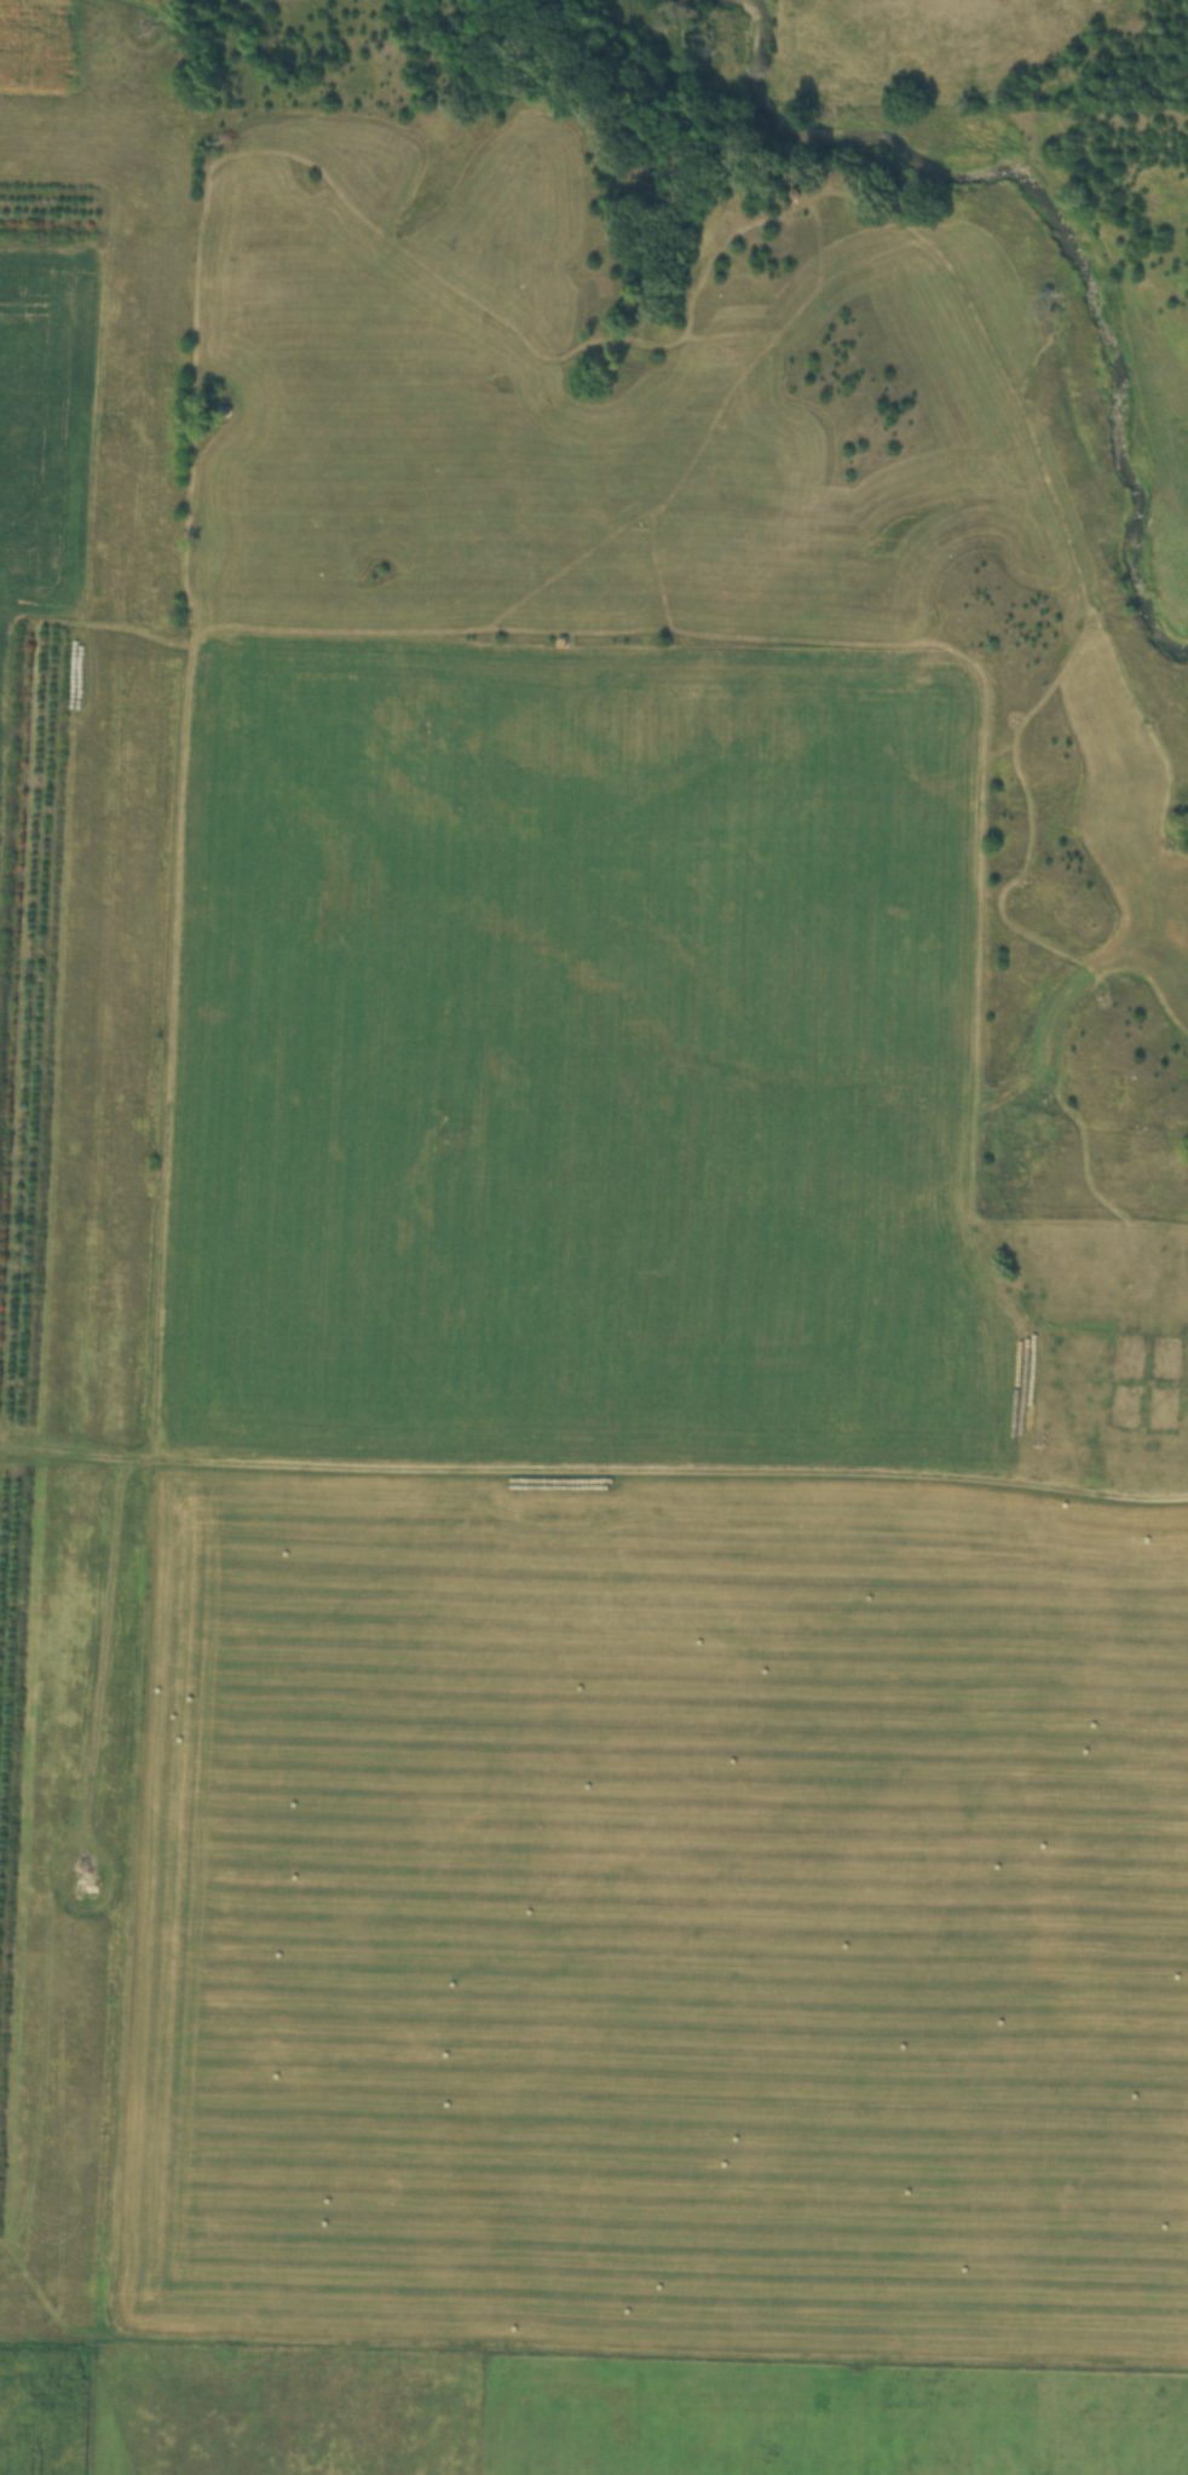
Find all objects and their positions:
river: (1061, 215)

